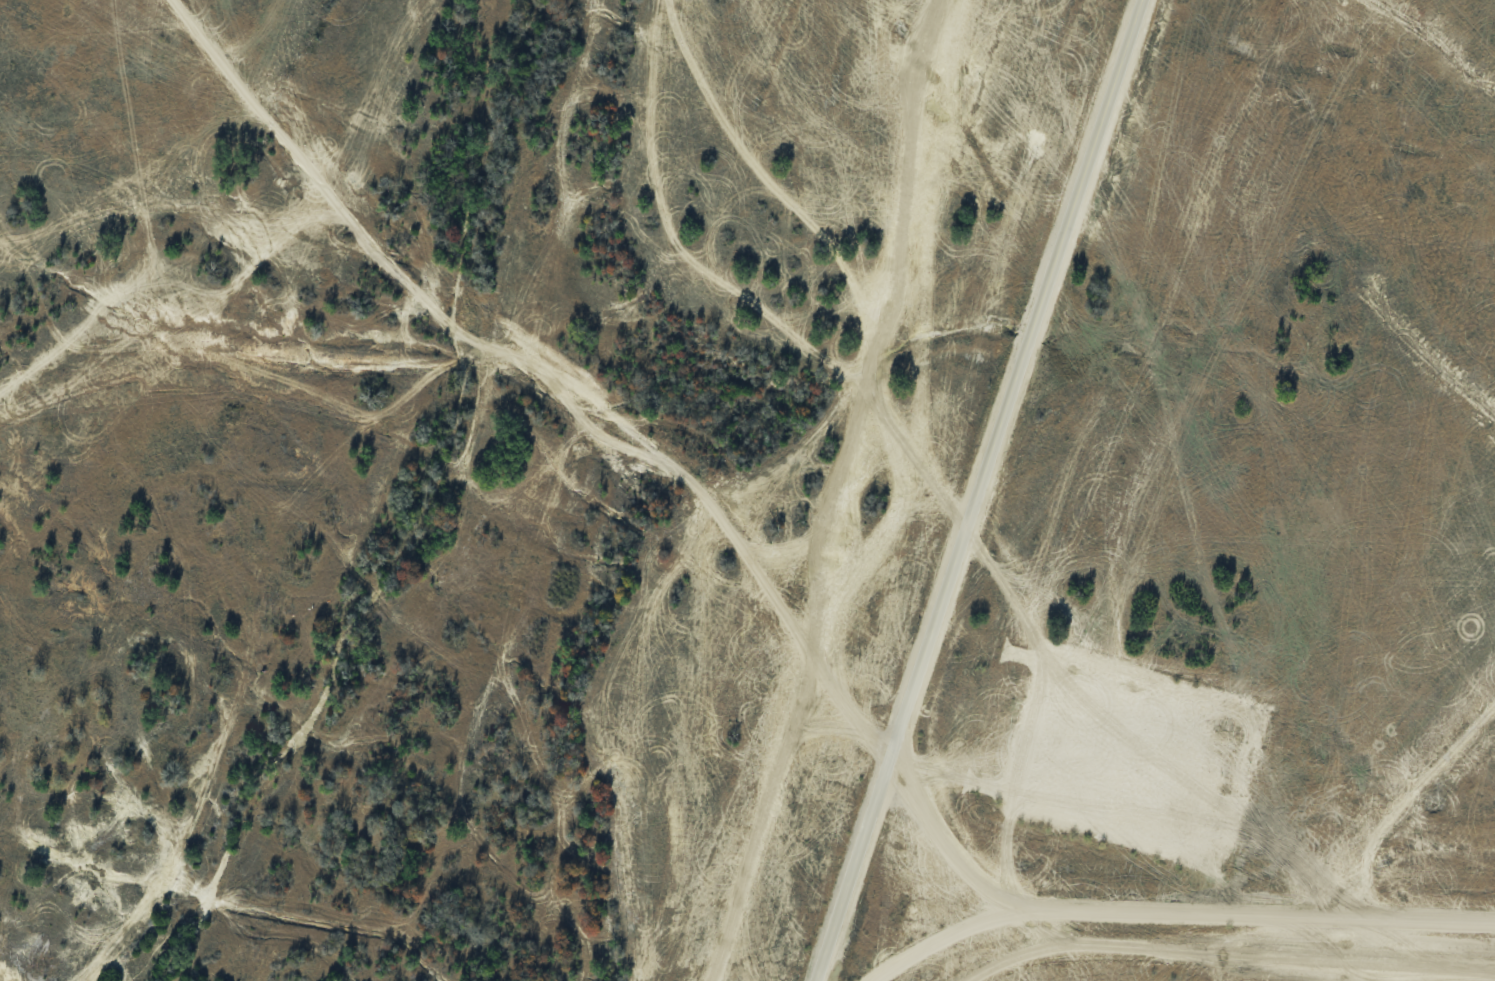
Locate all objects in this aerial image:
road: (984, 490)
road: (846, 494)
airport runway: (1432, 764)
road: (943, 844)
road: (1258, 918)
road: (935, 935)
road: (1361, 950)
road: (1230, 952)

